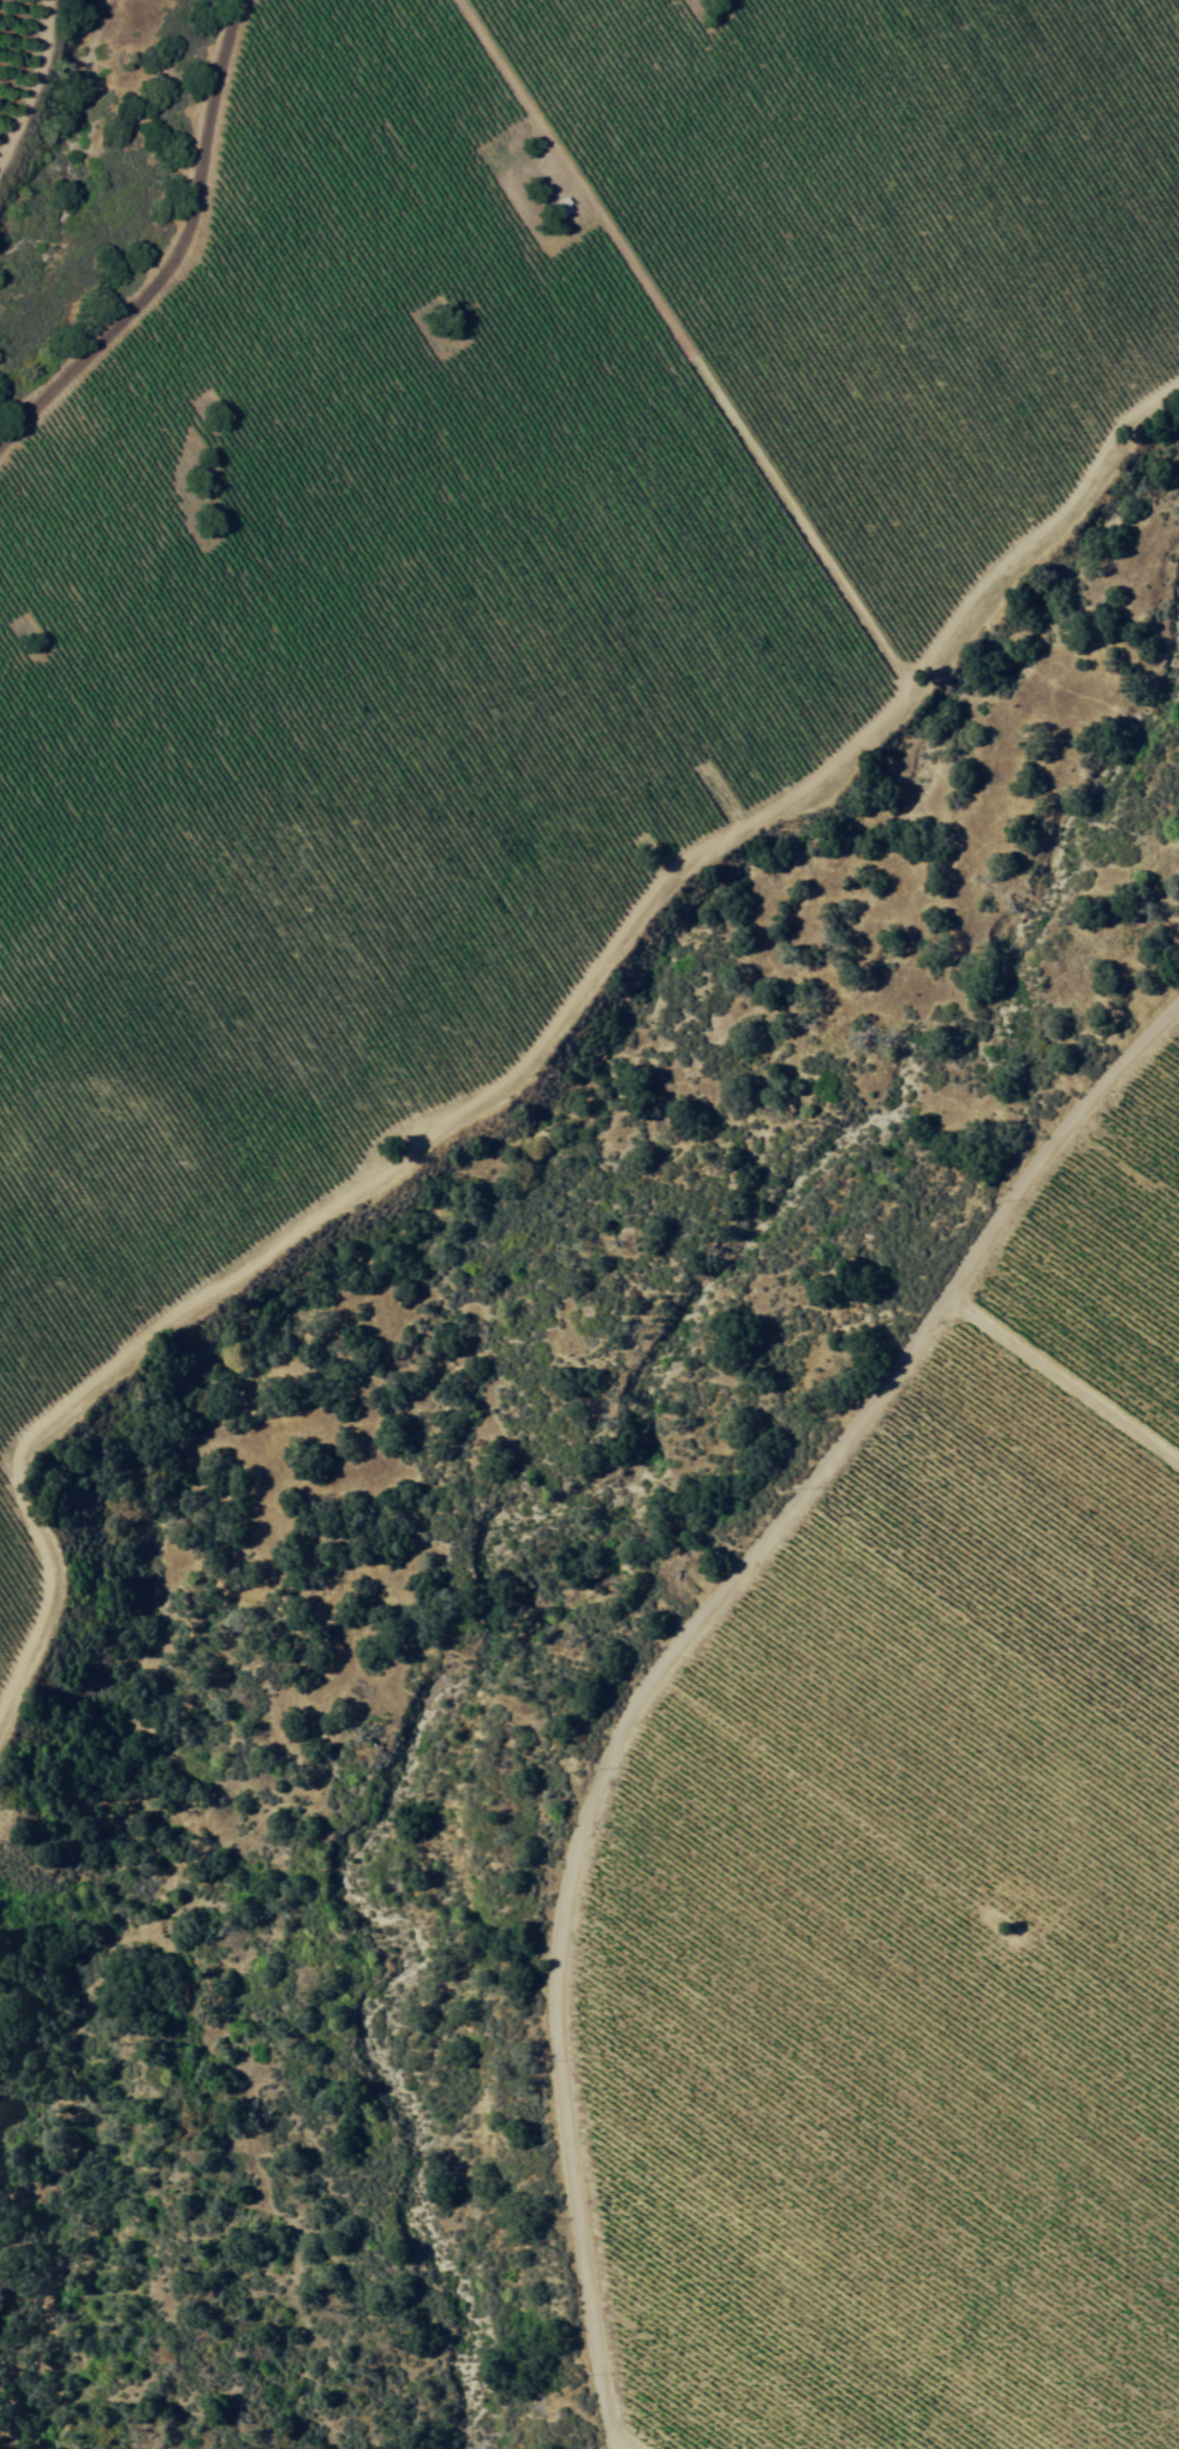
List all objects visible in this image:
road: (167, 240)
road: (675, 1653)

